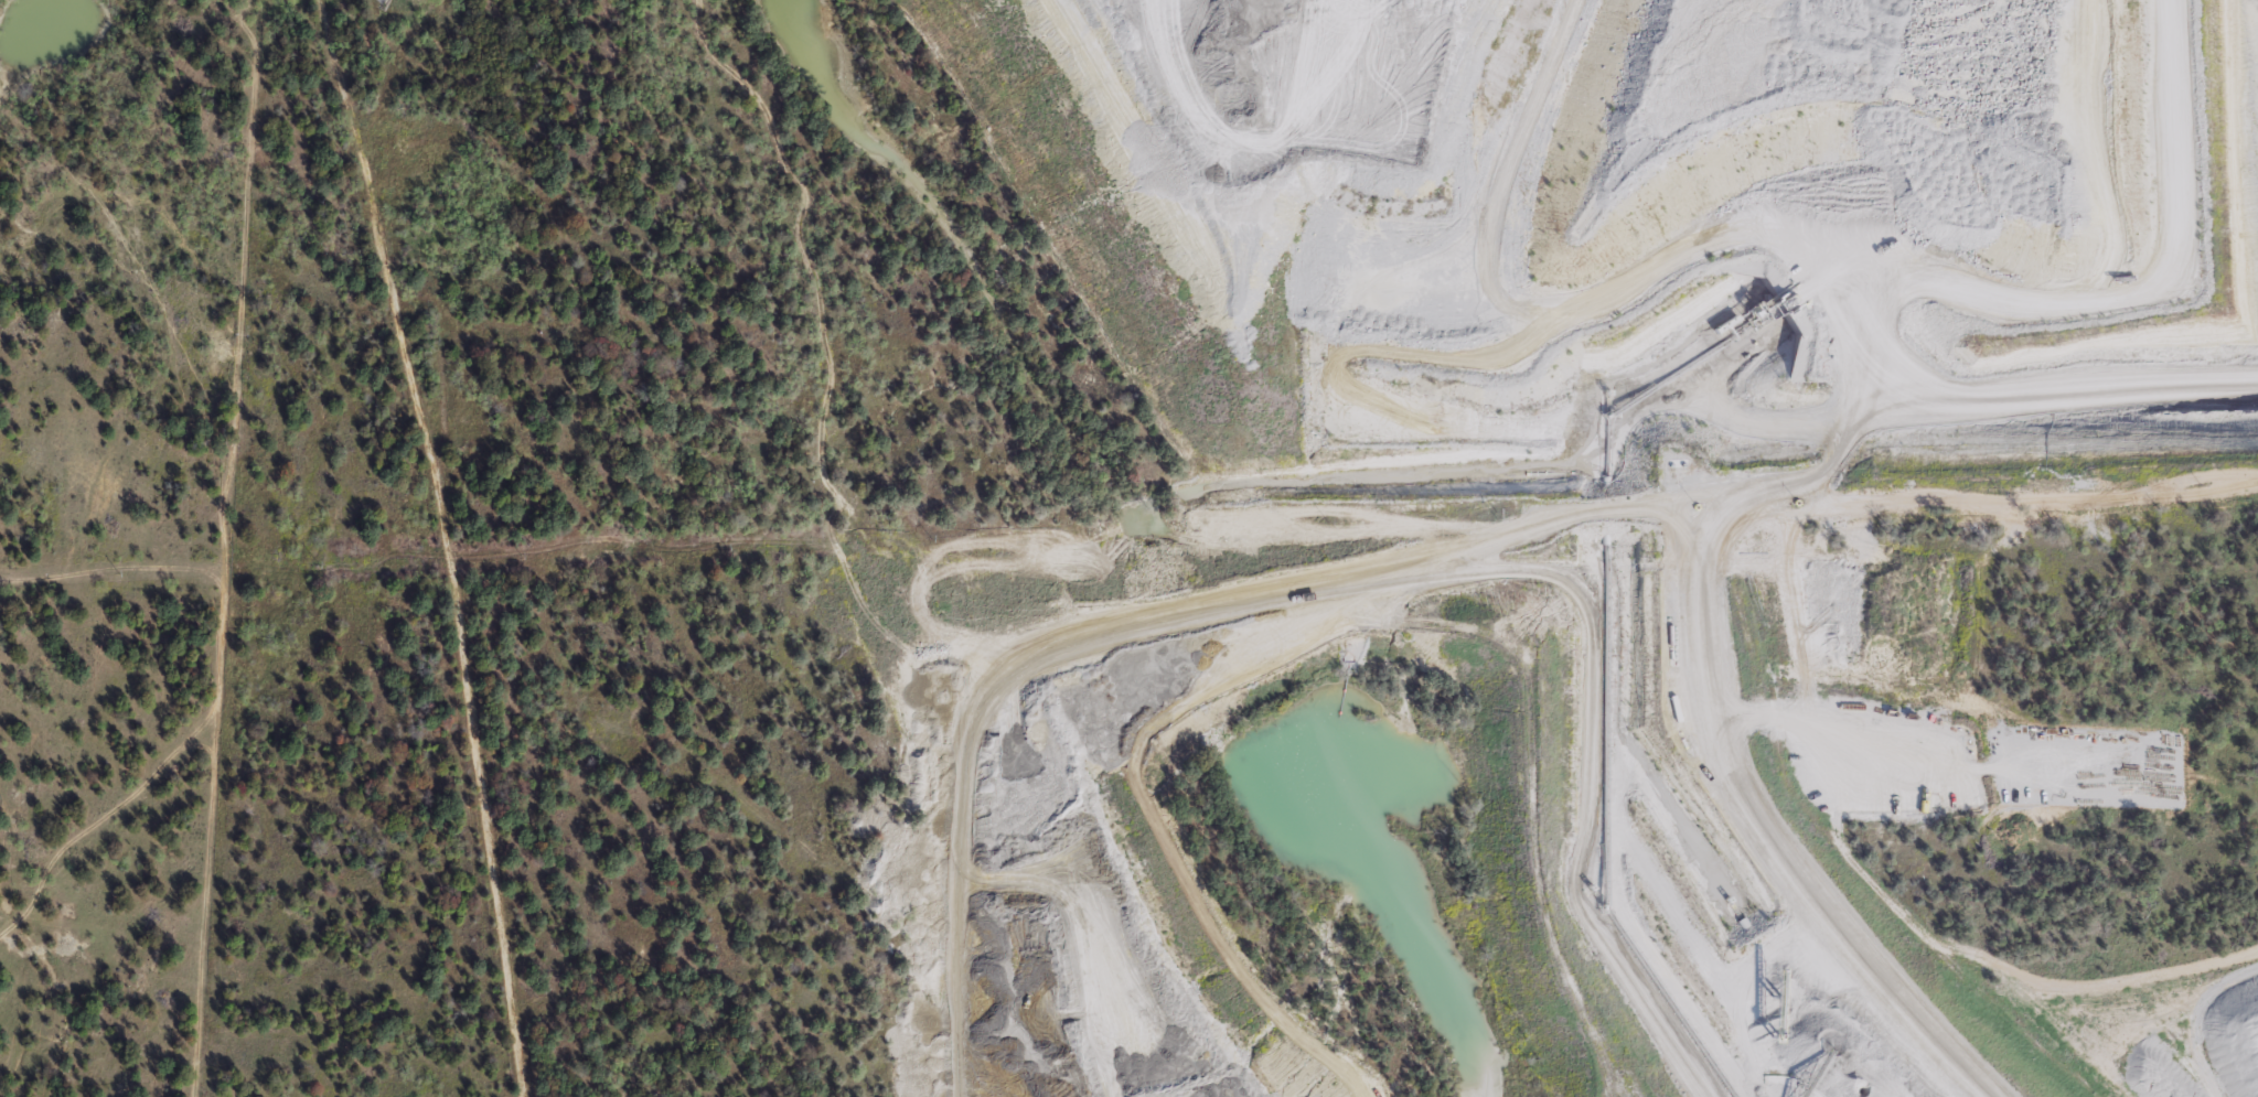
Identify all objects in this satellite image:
building: (384, 4)
road: (1443, 303)
road: (821, 434)
road: (445, 544)
road: (1492, 675)
road: (1205, 936)
road: (2077, 1011)
road: (937, 1015)
road: (957, 1079)

